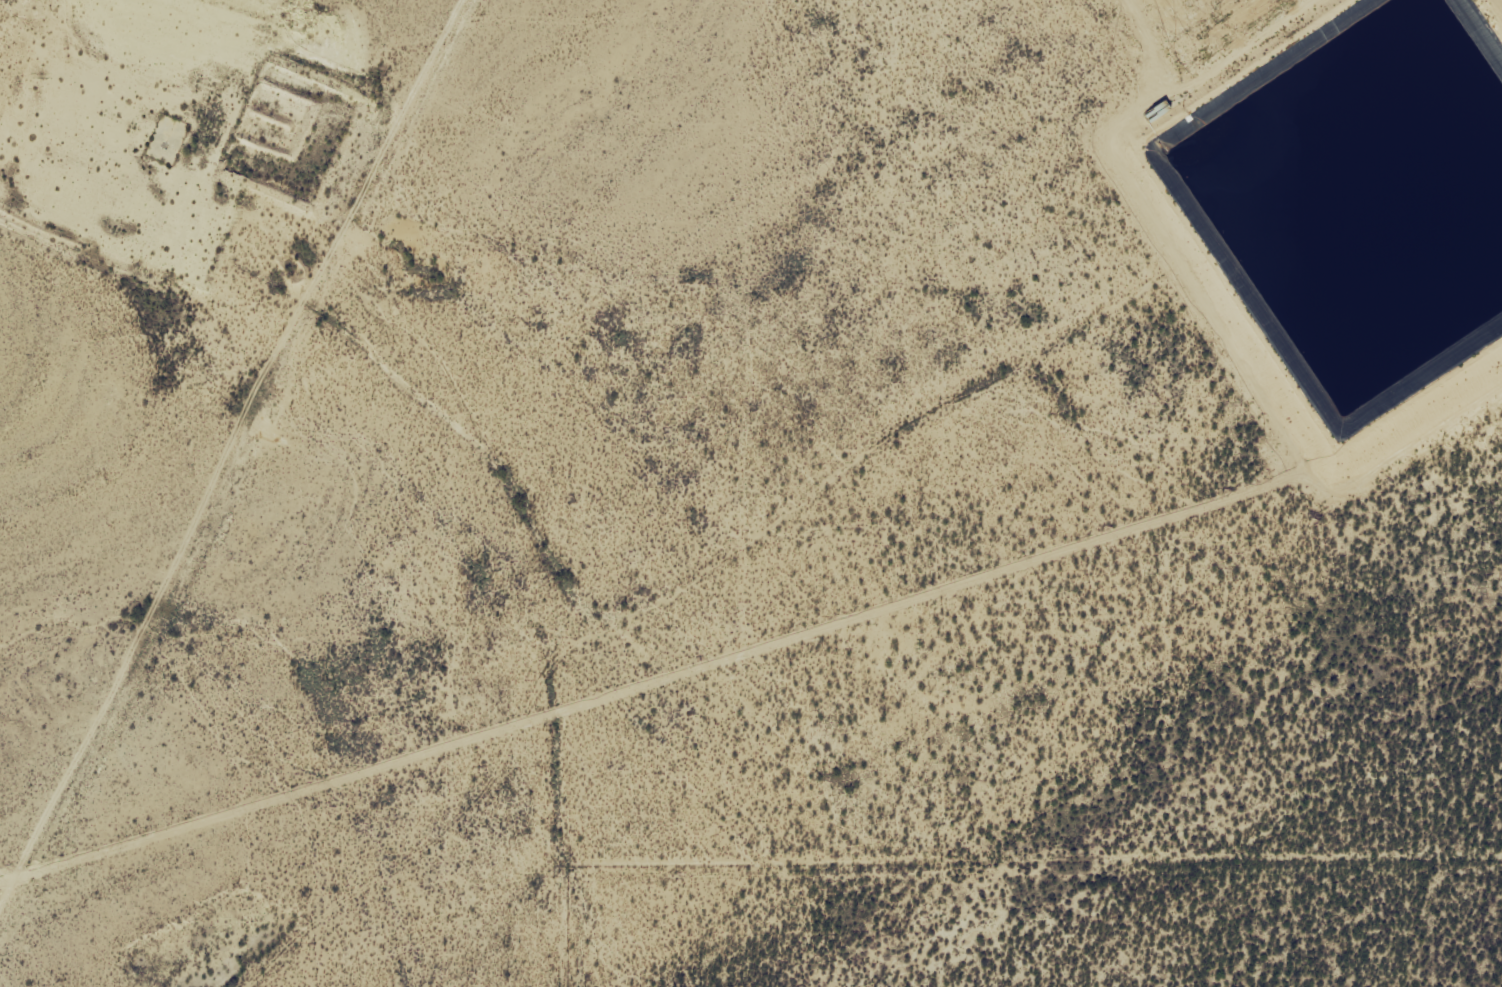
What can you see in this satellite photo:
road: (221, 413)

